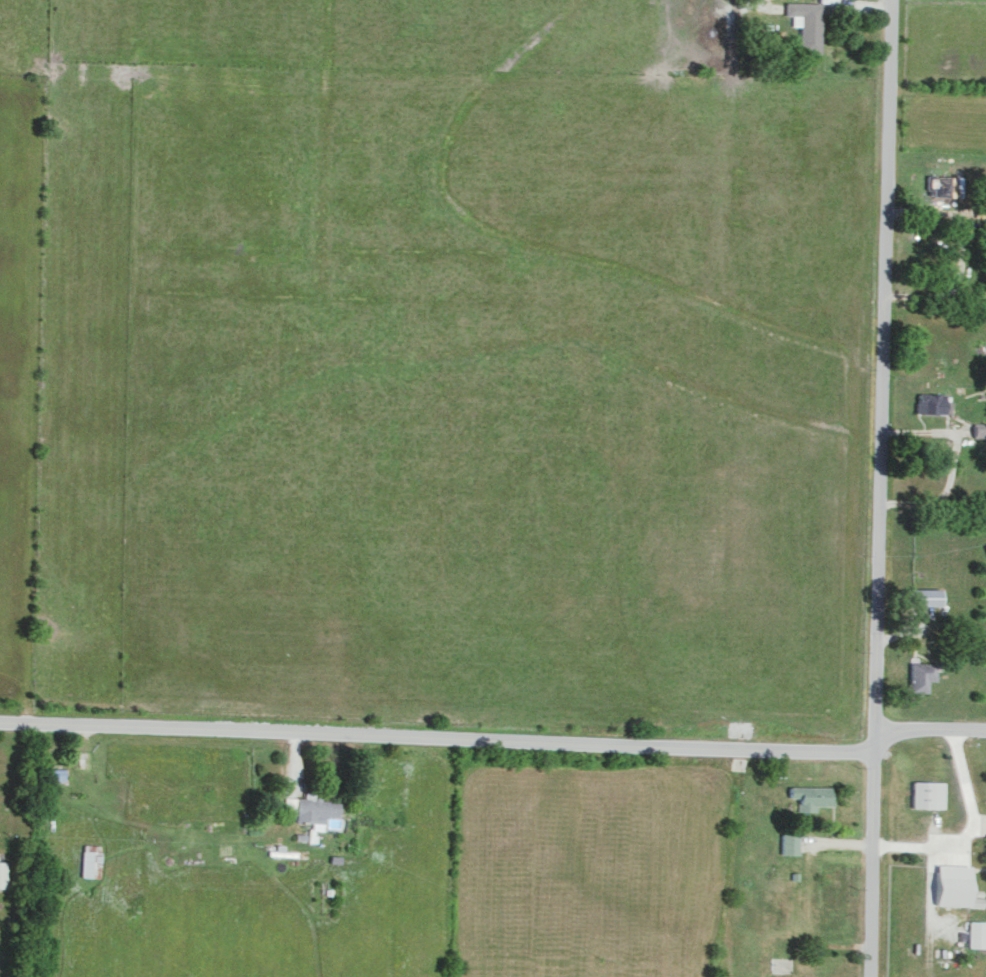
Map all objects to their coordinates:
building: (807, 22)
building: (944, 186)
building: (980, 209)
building: (932, 403)
building: (979, 429)
road: (879, 488)
building: (985, 546)
building: (919, 597)
building: (921, 675)
road: (496, 738)
building: (928, 793)
building: (811, 795)
building: (310, 807)
road: (969, 831)
building: (790, 843)
building: (985, 851)
building: (90, 859)
building: (3, 873)
building: (951, 884)
building: (976, 933)

